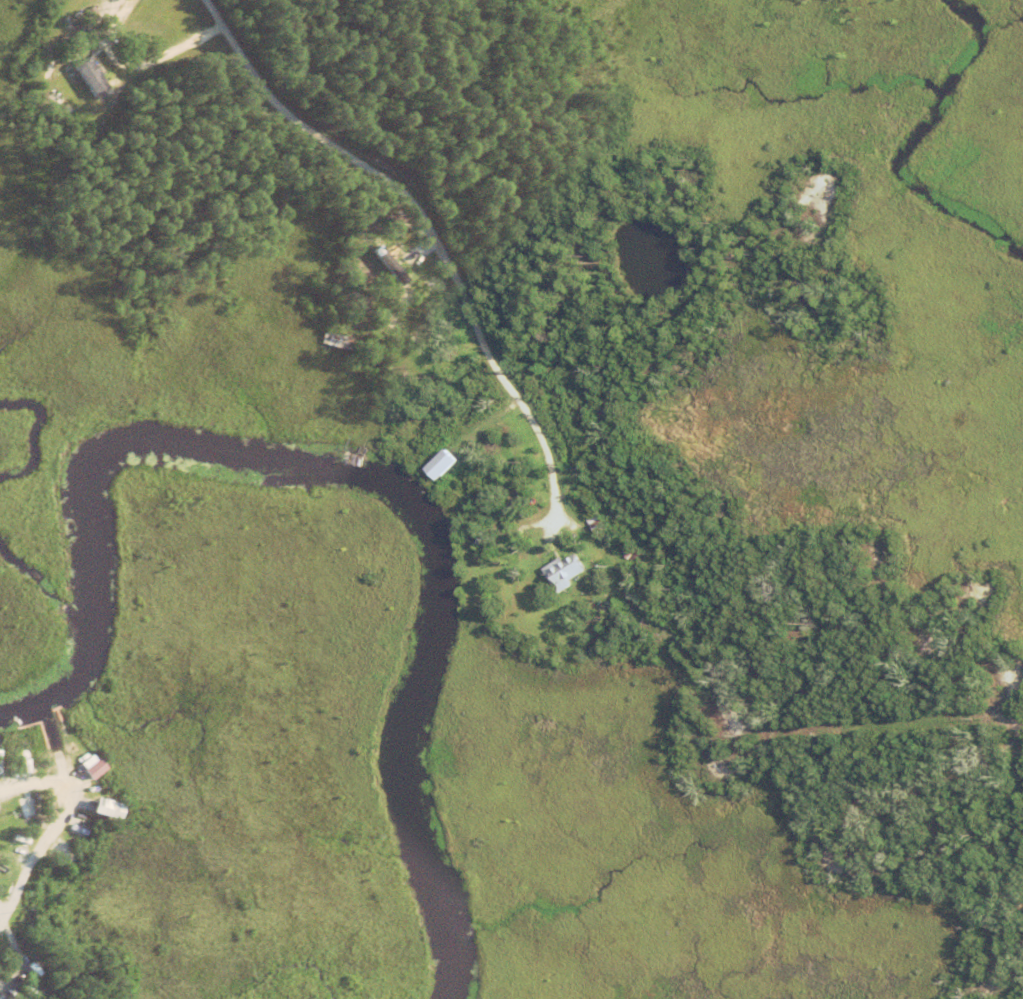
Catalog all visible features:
building: (88, 73)
road: (404, 195)
building: (388, 263)
building: (449, 464)
building: (384, 470)
river: (368, 471)
building: (485, 541)
building: (571, 545)
building: (684, 546)
building: (564, 548)
building: (633, 551)
building: (621, 555)
building: (567, 571)
building: (601, 626)
building: (94, 768)
building: (107, 807)
building: (81, 833)

